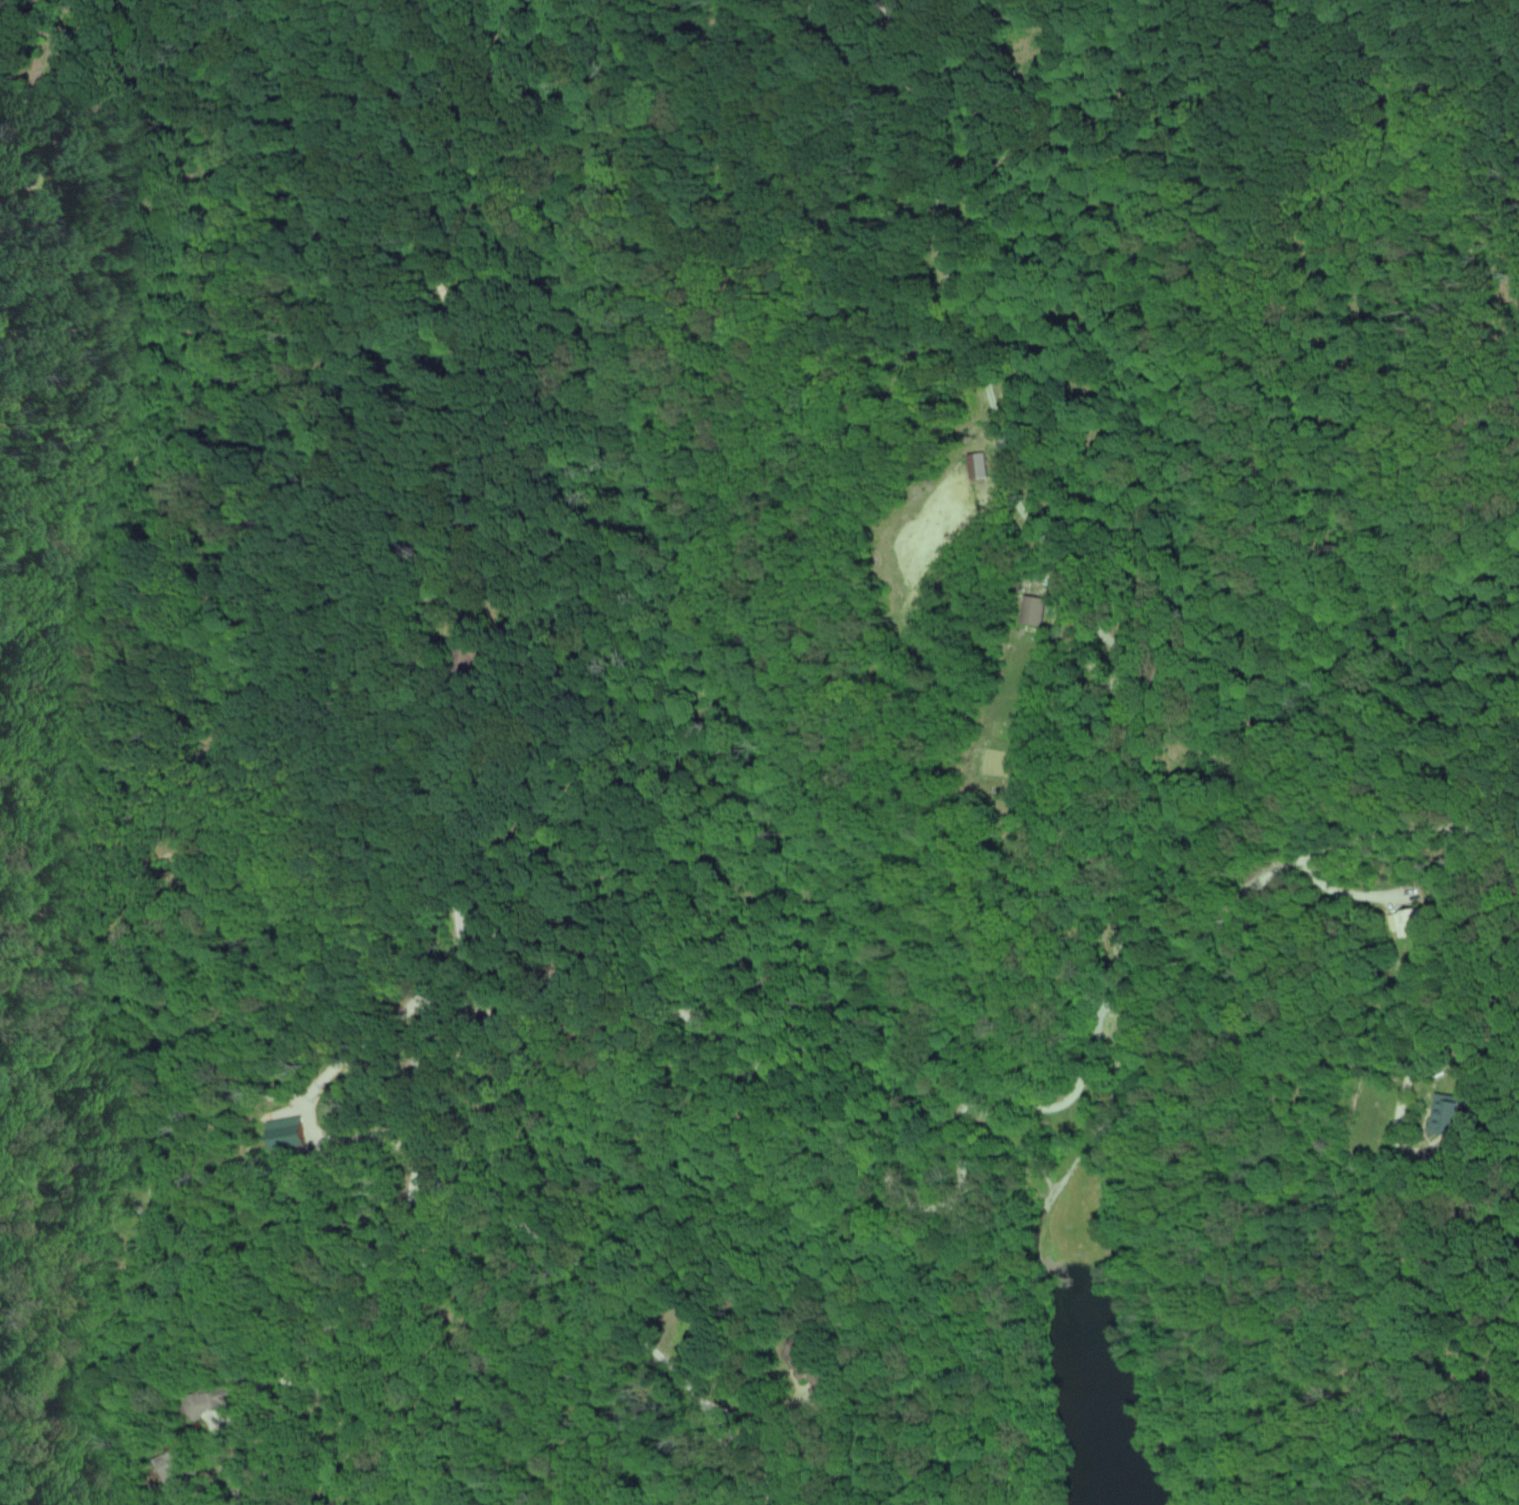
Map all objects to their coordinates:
road: (884, 12)
road: (996, 22)
road: (997, 416)
road: (419, 746)
building: (1392, 921)
road: (984, 1095)
building: (1446, 1110)
building: (282, 1131)
road: (1394, 1211)
road: (584, 1263)
road: (750, 1452)

